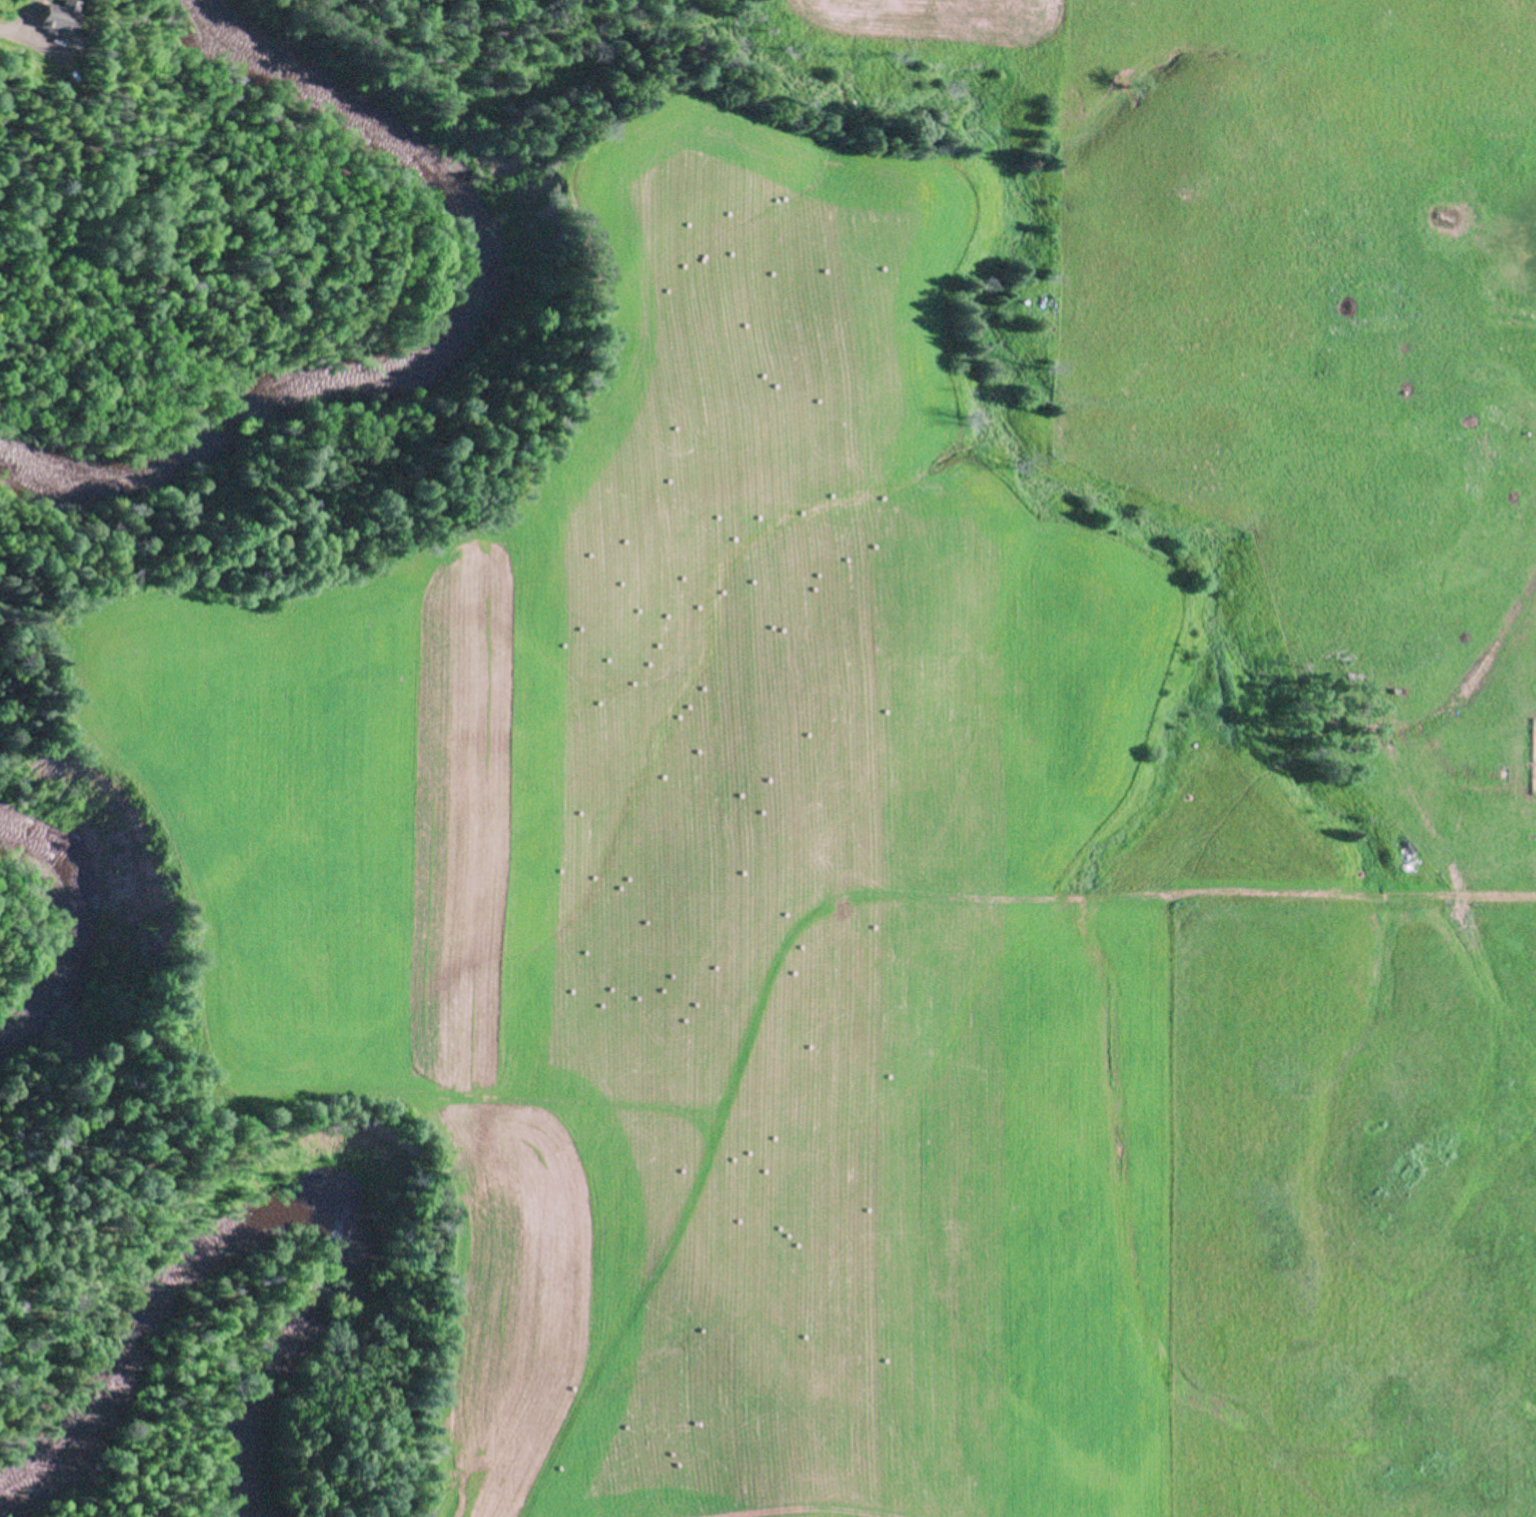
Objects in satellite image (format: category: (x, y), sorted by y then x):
building: (54, 15)
road: (8, 33)
river: (452, 334)
river: (70, 930)
river: (271, 1221)

